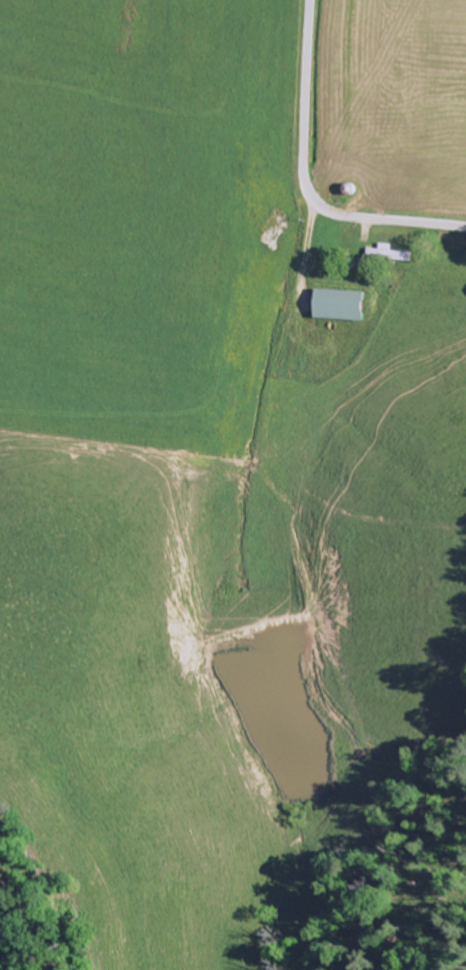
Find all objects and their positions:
road: (305, 178)
building: (389, 254)
building: (343, 306)

